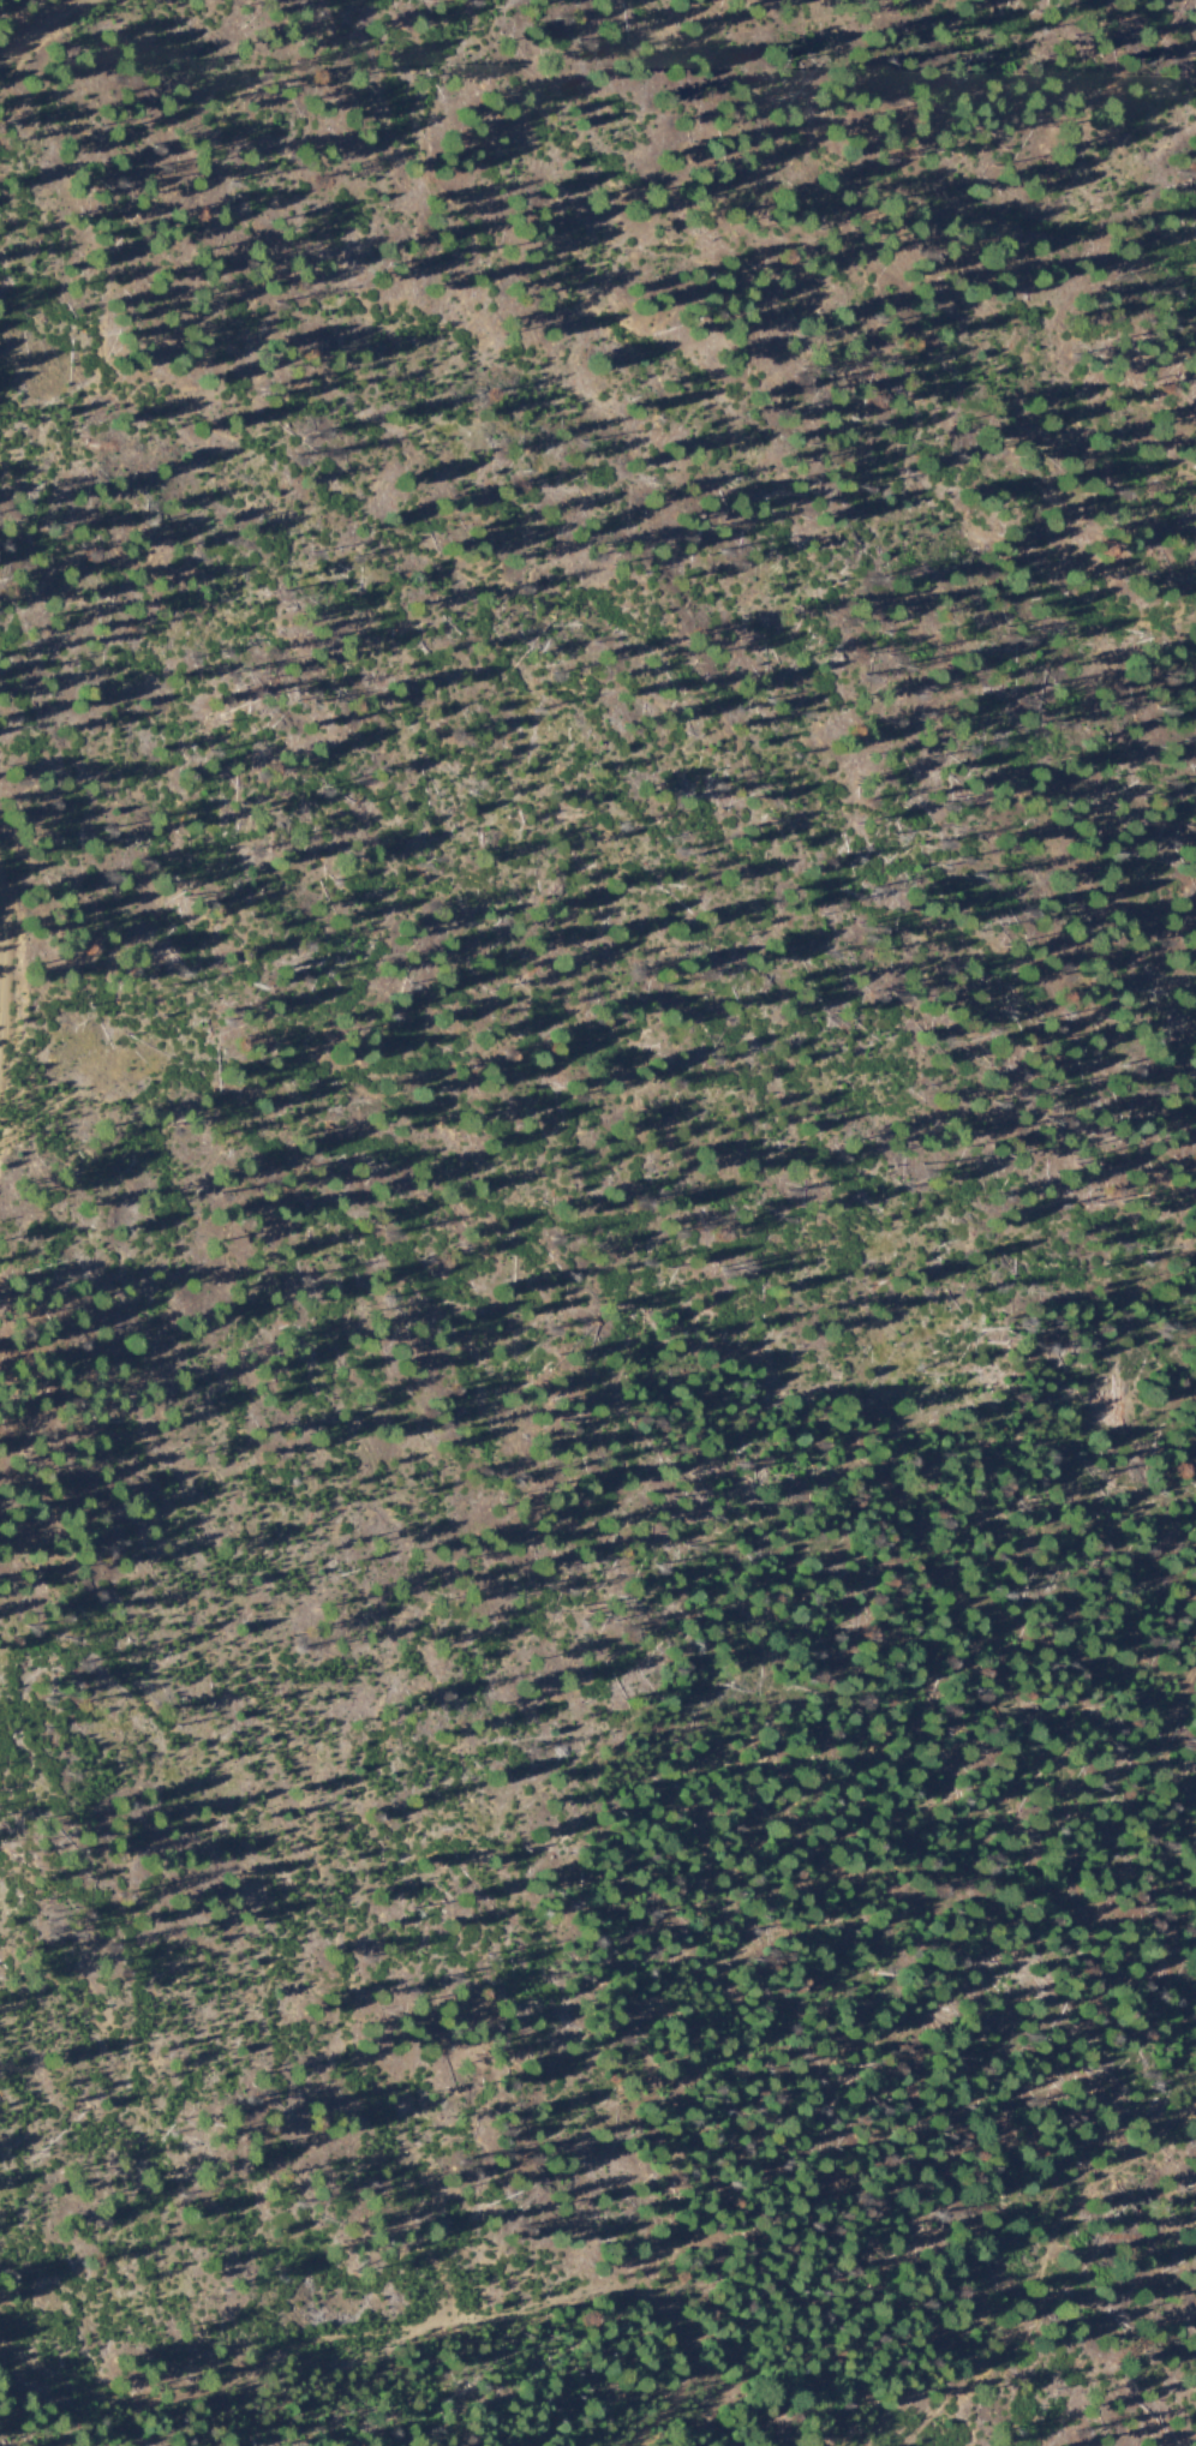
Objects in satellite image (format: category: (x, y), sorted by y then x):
road: (41, 26)
road: (1023, 1424)
road: (973, 2225)
road: (389, 2350)

